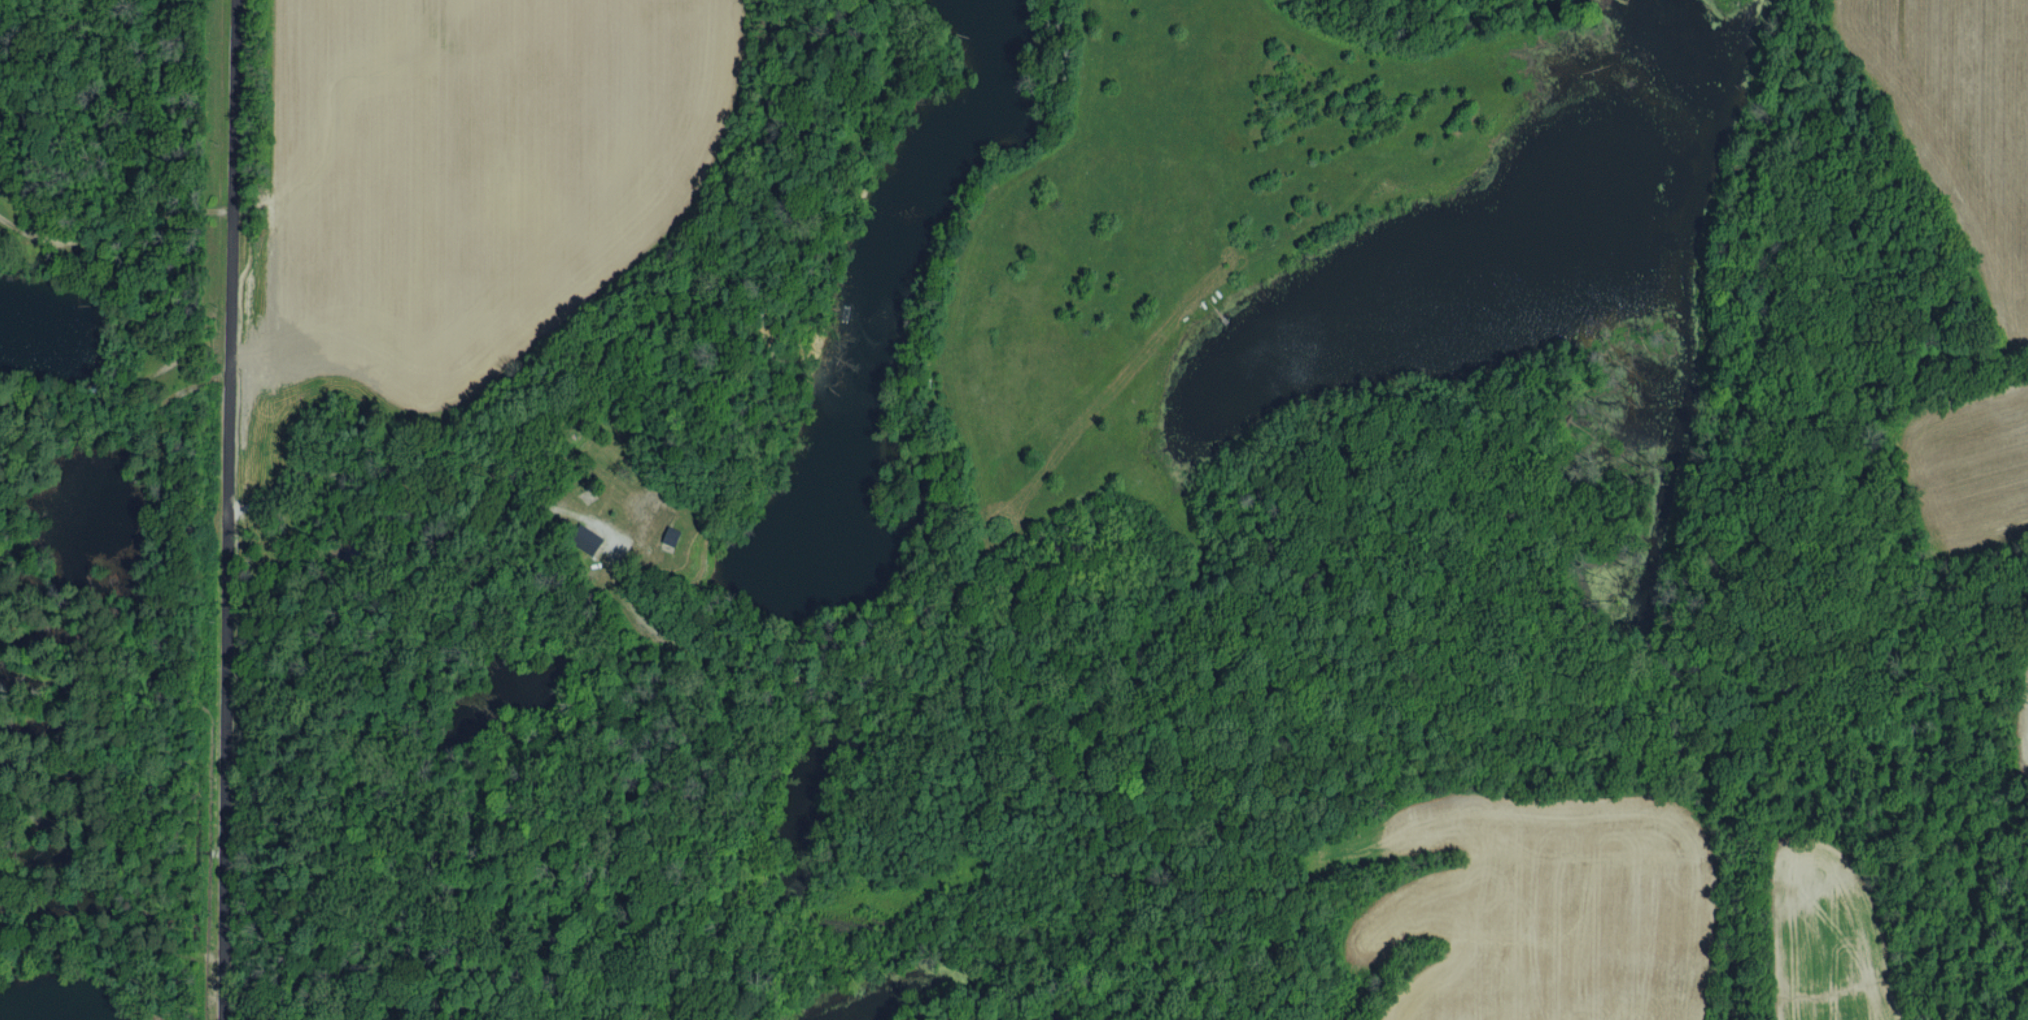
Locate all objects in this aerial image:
road: (112, 221)
road: (229, 510)
building: (661, 529)
building: (590, 540)

